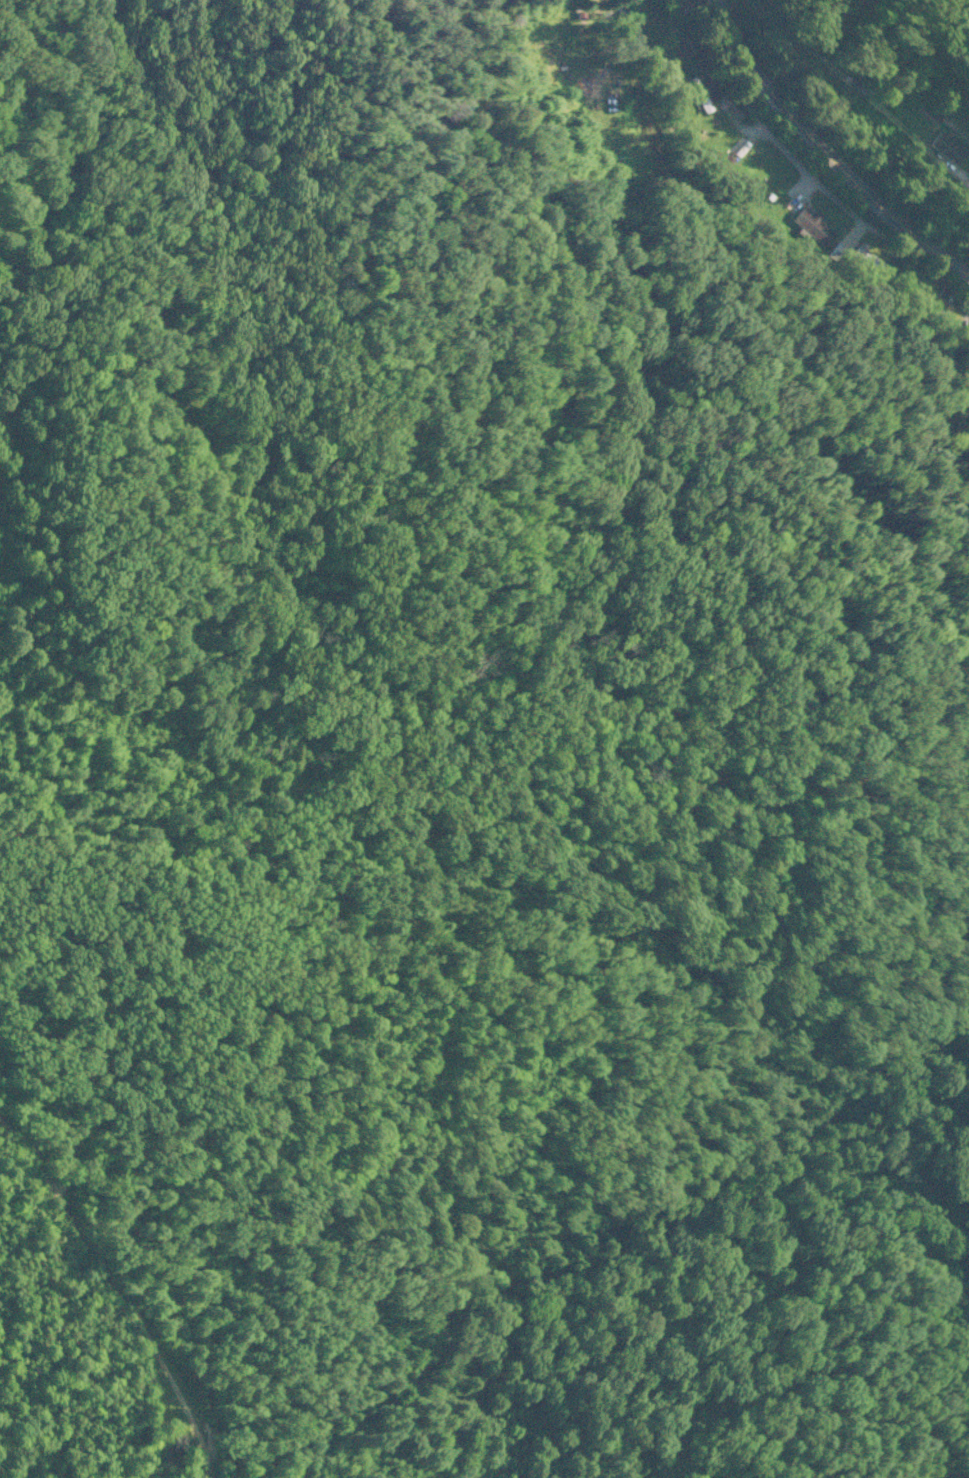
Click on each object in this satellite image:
road: (591, 10)
road: (744, 70)
building: (695, 90)
building: (945, 147)
road: (824, 153)
road: (837, 184)
building: (810, 224)
building: (838, 251)
building: (865, 261)

